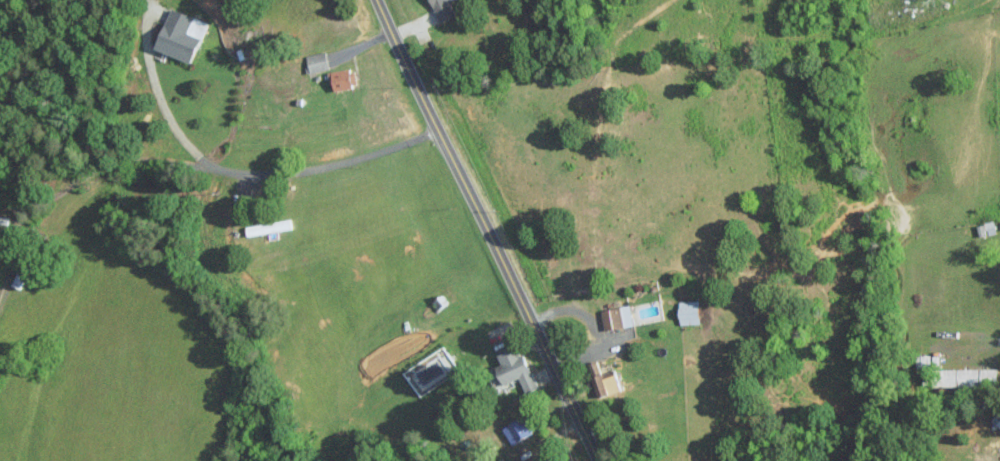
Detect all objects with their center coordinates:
building: (445, 9)
building: (184, 35)
building: (318, 61)
building: (342, 79)
road: (159, 94)
road: (923, 140)
road: (180, 161)
building: (268, 227)
road: (486, 230)
building: (691, 312)
building: (617, 318)
building: (514, 371)
building: (968, 377)
building: (606, 385)
building: (998, 418)
building: (519, 431)

